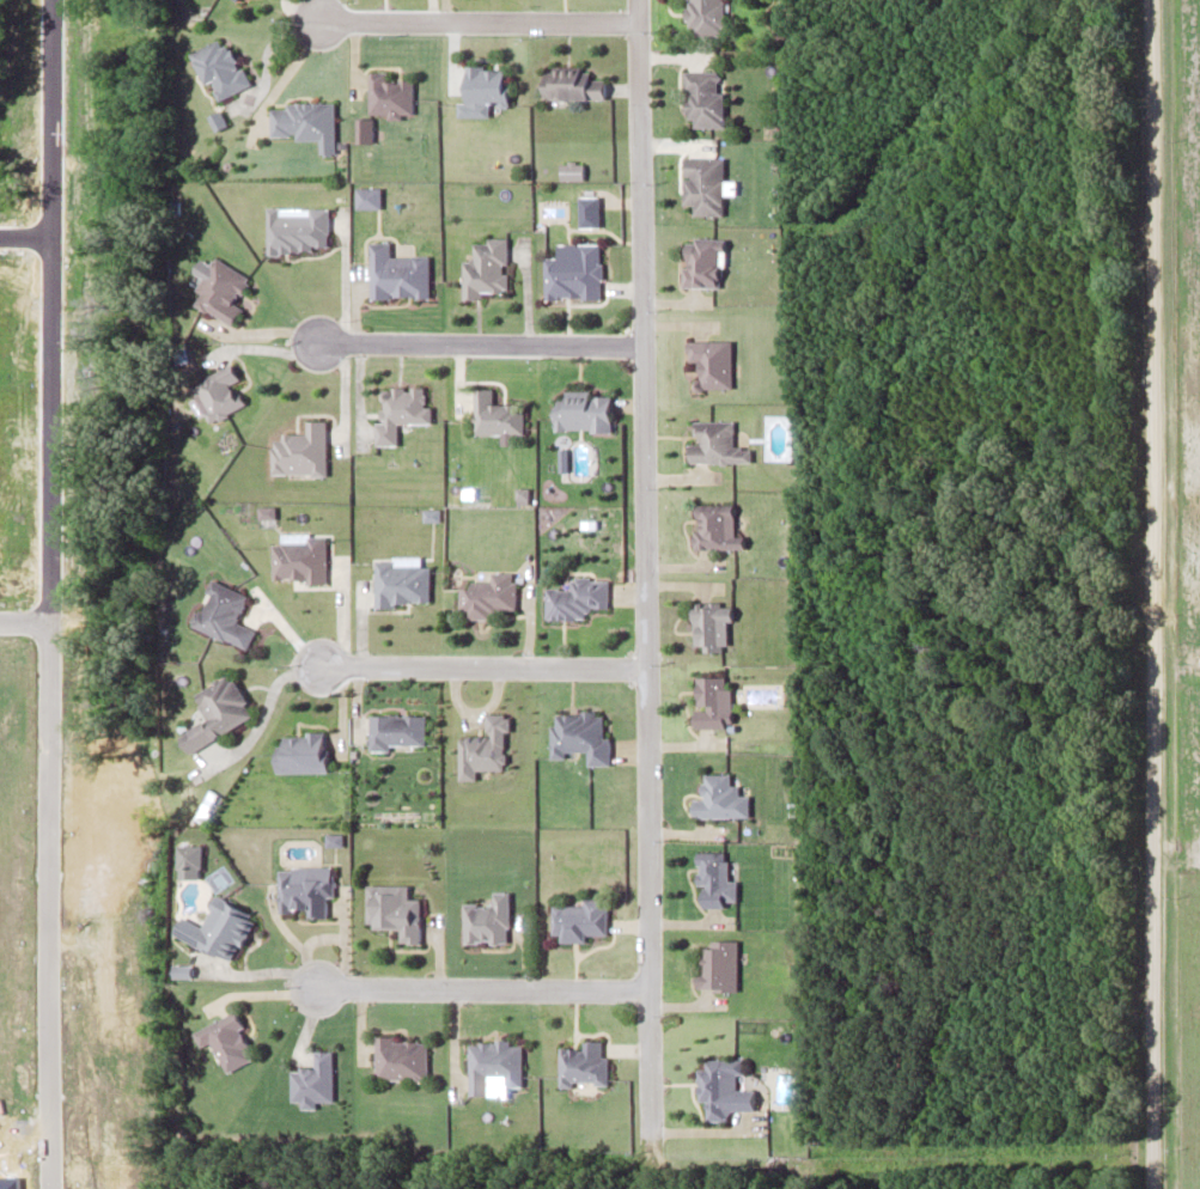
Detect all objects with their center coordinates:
building: (703, 16)
road: (475, 19)
building: (219, 67)
building: (567, 83)
building: (483, 85)
building: (389, 93)
building: (702, 97)
building: (305, 121)
building: (701, 183)
building: (297, 228)
building: (700, 262)
building: (483, 268)
building: (396, 273)
building: (571, 274)
building: (221, 288)
road: (477, 342)
building: (709, 360)
building: (218, 391)
building: (400, 409)
building: (578, 410)
building: (493, 414)
building: (714, 443)
building: (299, 449)
building: (712, 526)
building: (299, 556)
road: (642, 565)
building: (401, 580)
building: (489, 594)
road: (1149, 594)
building: (575, 596)
building: (223, 612)
building: (708, 624)
road: (482, 666)
building: (709, 702)
building: (218, 711)
building: (397, 730)
building: (580, 733)
building: (485, 748)
building: (303, 751)
building: (718, 797)
building: (712, 879)
building: (305, 890)
building: (395, 910)
building: (579, 919)
building: (488, 920)
building: (223, 927)
building: (717, 965)
road: (480, 987)
building: (226, 1039)
building: (401, 1057)
building: (493, 1062)
building: (581, 1063)
building: (312, 1079)
building: (721, 1086)

